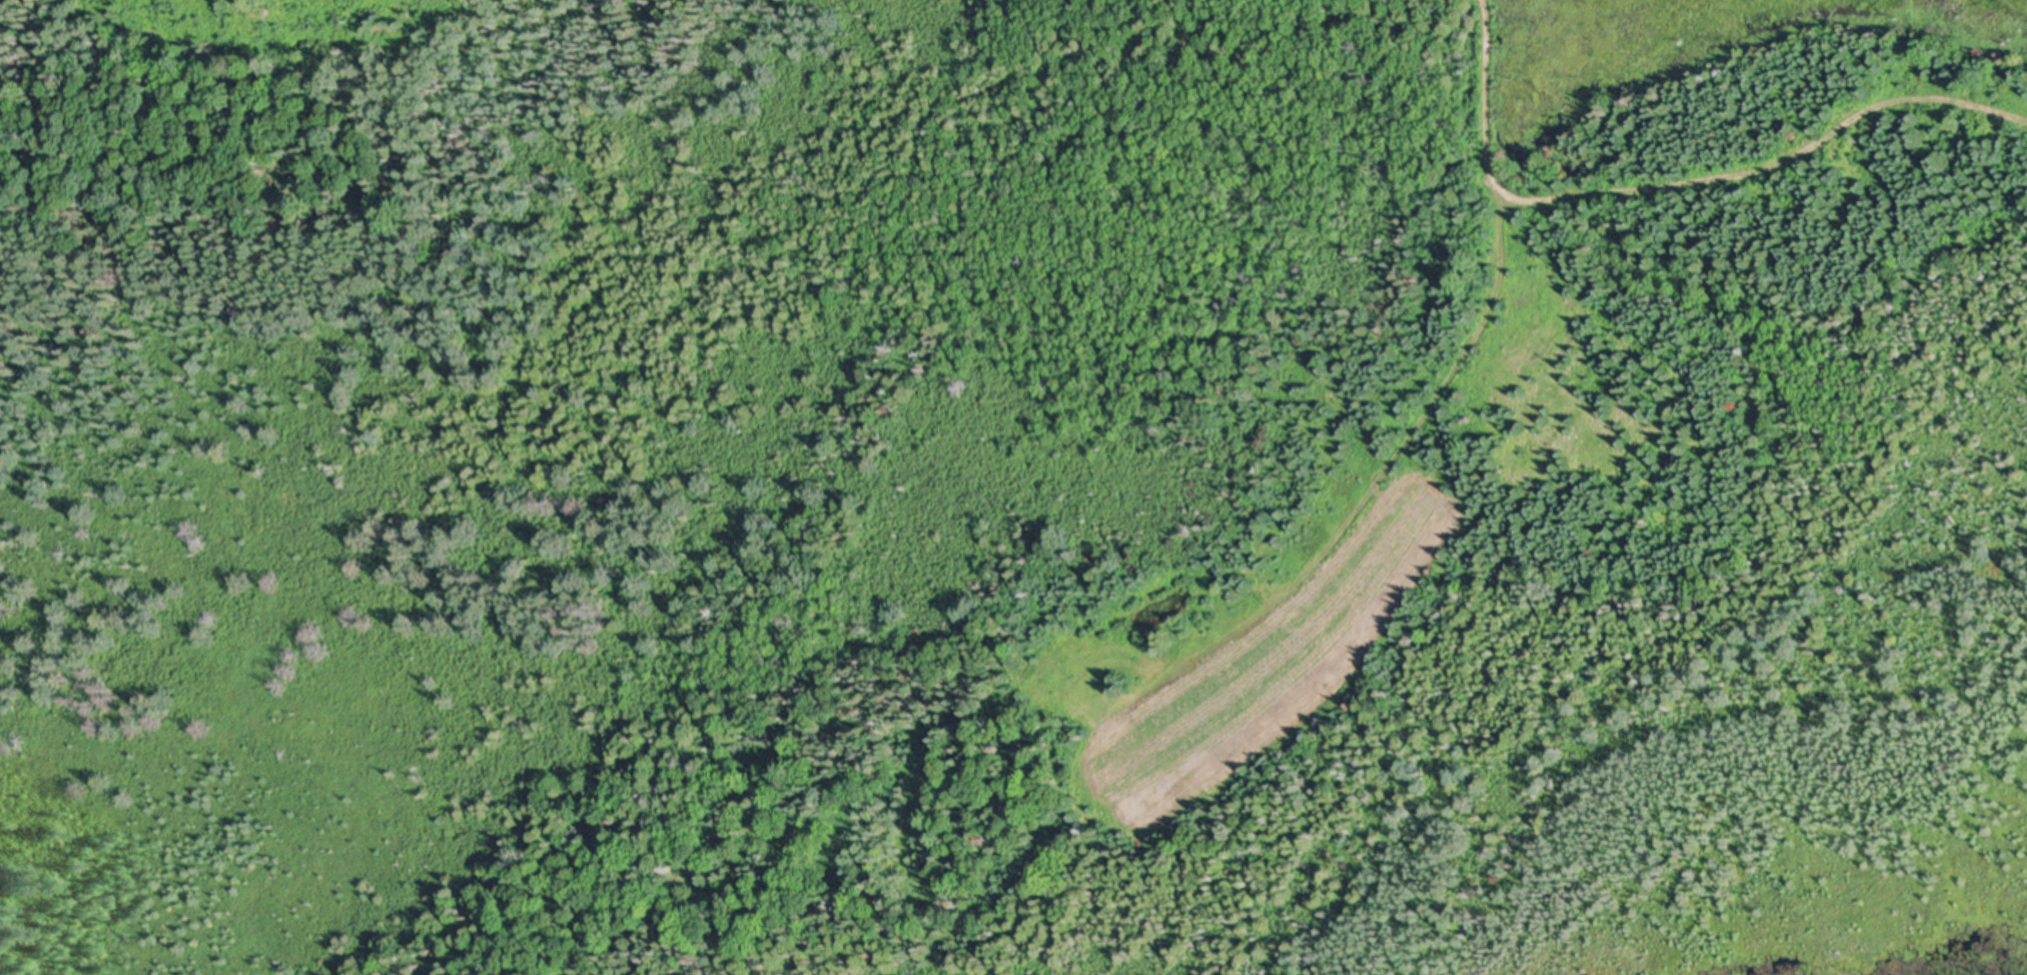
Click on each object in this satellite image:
road: (1668, 187)

